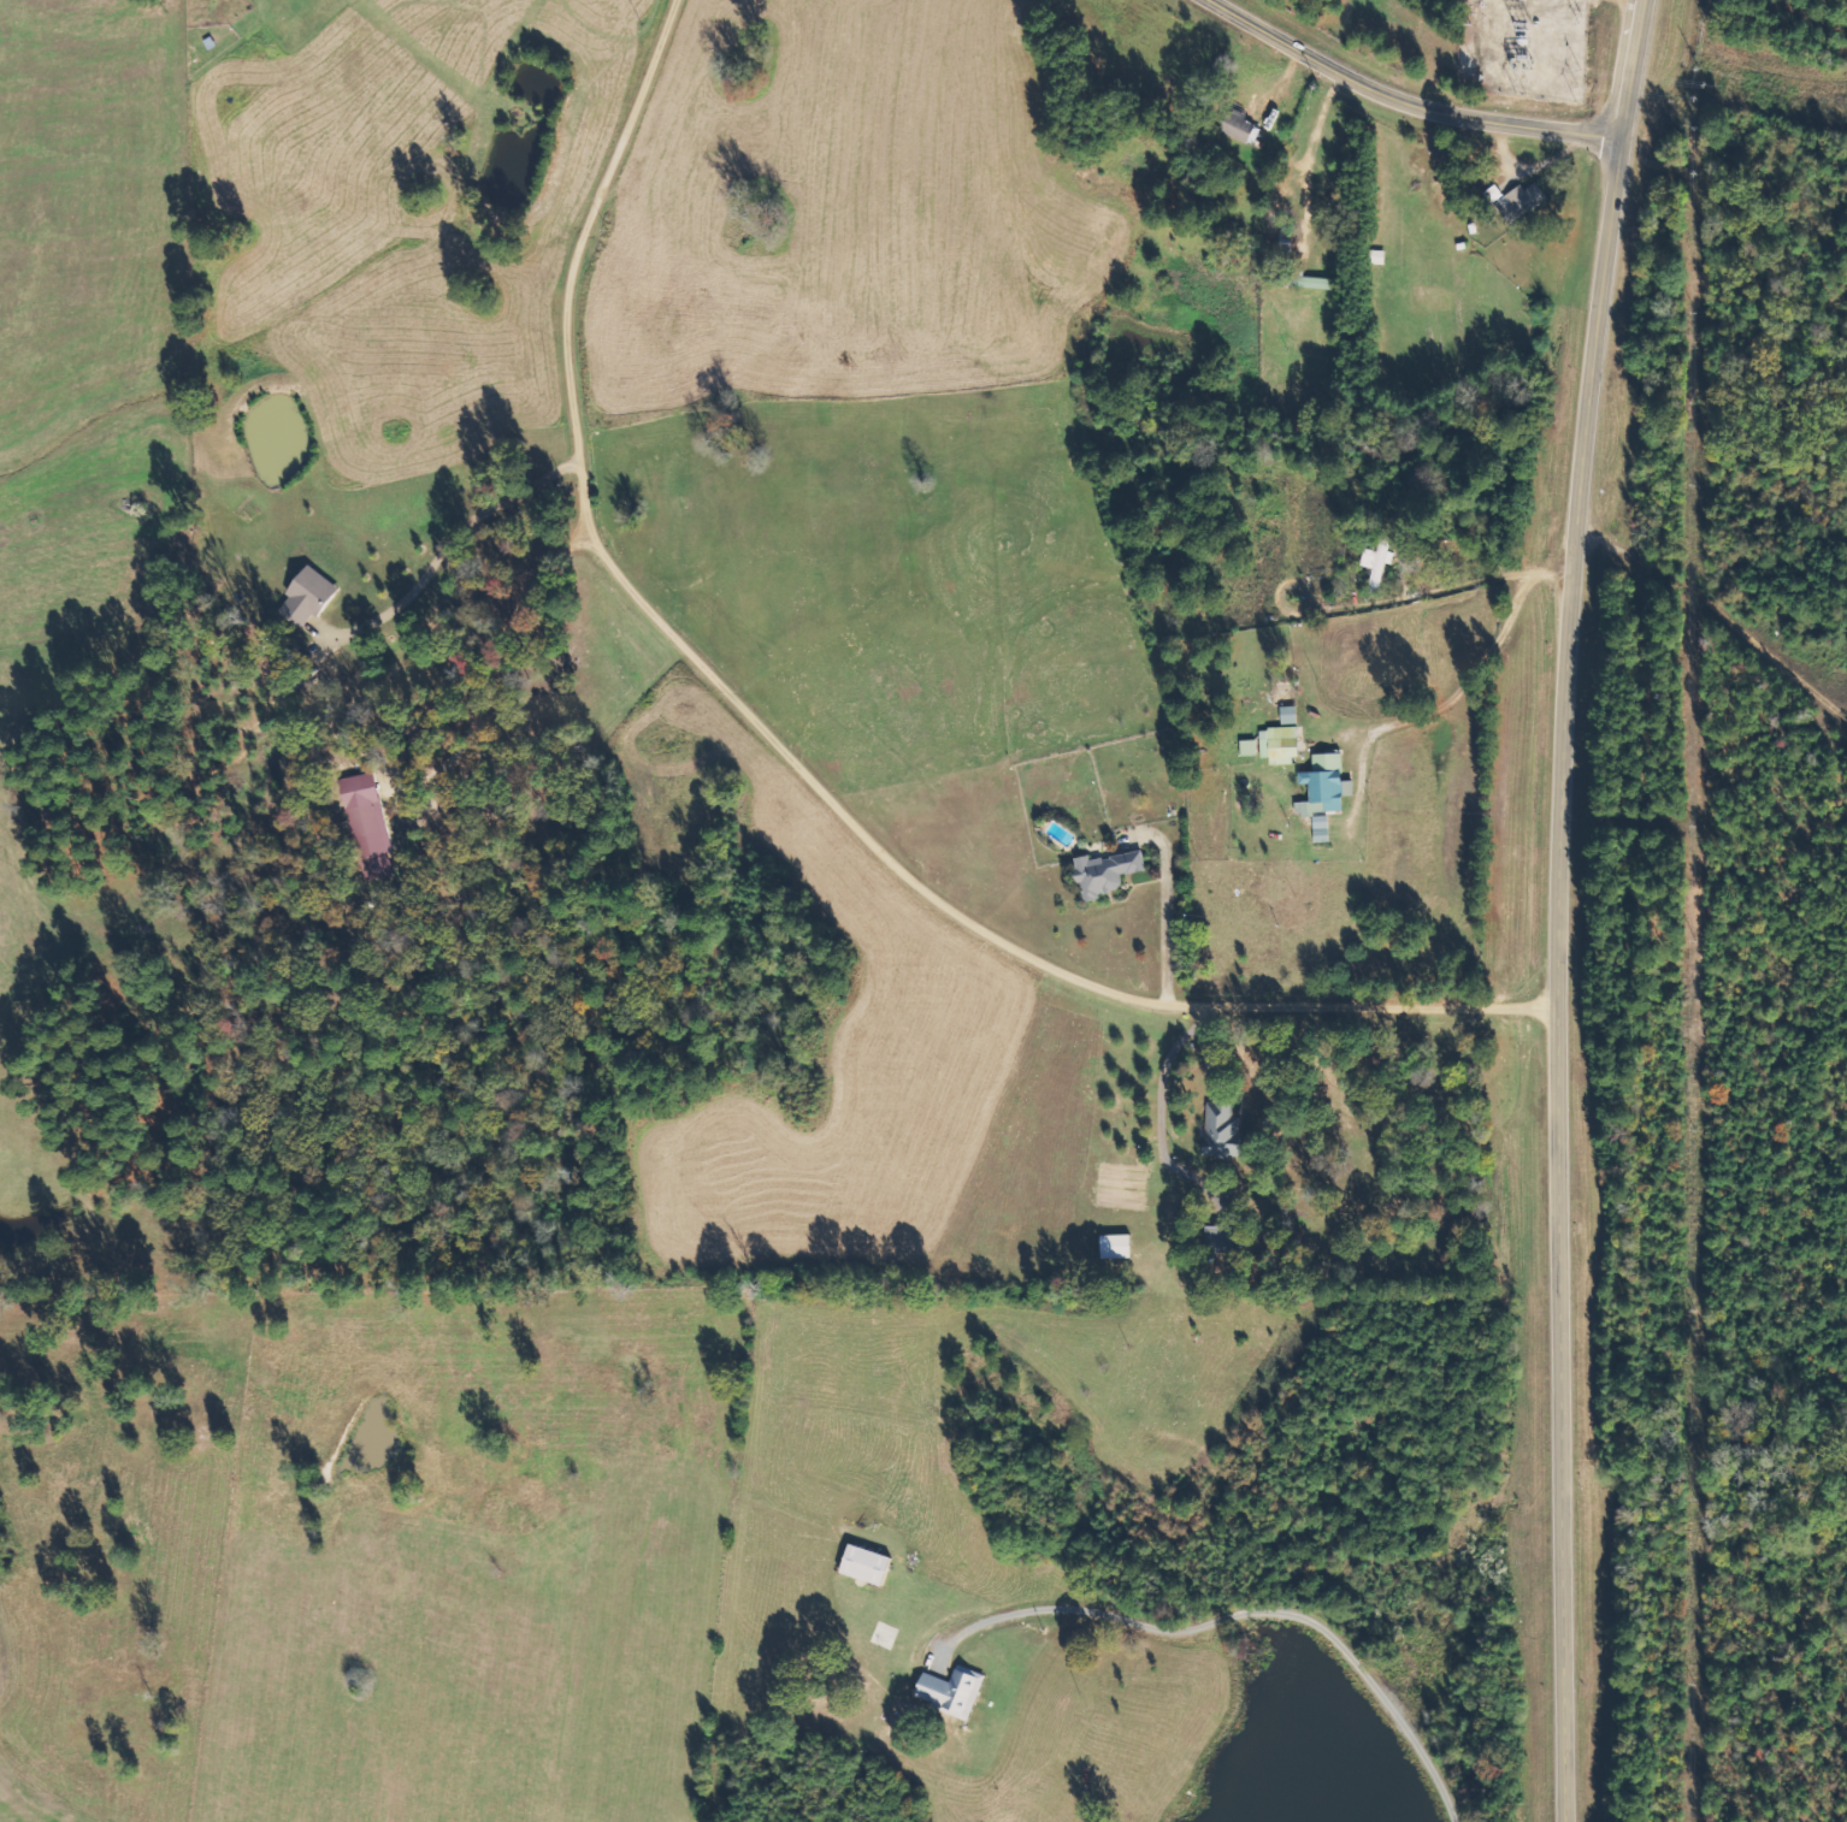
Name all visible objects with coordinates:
road: (1835, 12)
power substation: (1540, 49)
road: (1408, 101)
building: (1239, 126)
building: (1520, 201)
building: (1379, 560)
road: (1717, 591)
building: (308, 594)
building: (1290, 714)
building: (1280, 744)
building: (1250, 746)
building: (1326, 791)
building: (367, 824)
building: (1108, 871)
road: (1559, 907)
building: (1225, 1130)
building: (1117, 1246)
building: (866, 1563)
road: (1229, 1616)
building: (952, 1690)

